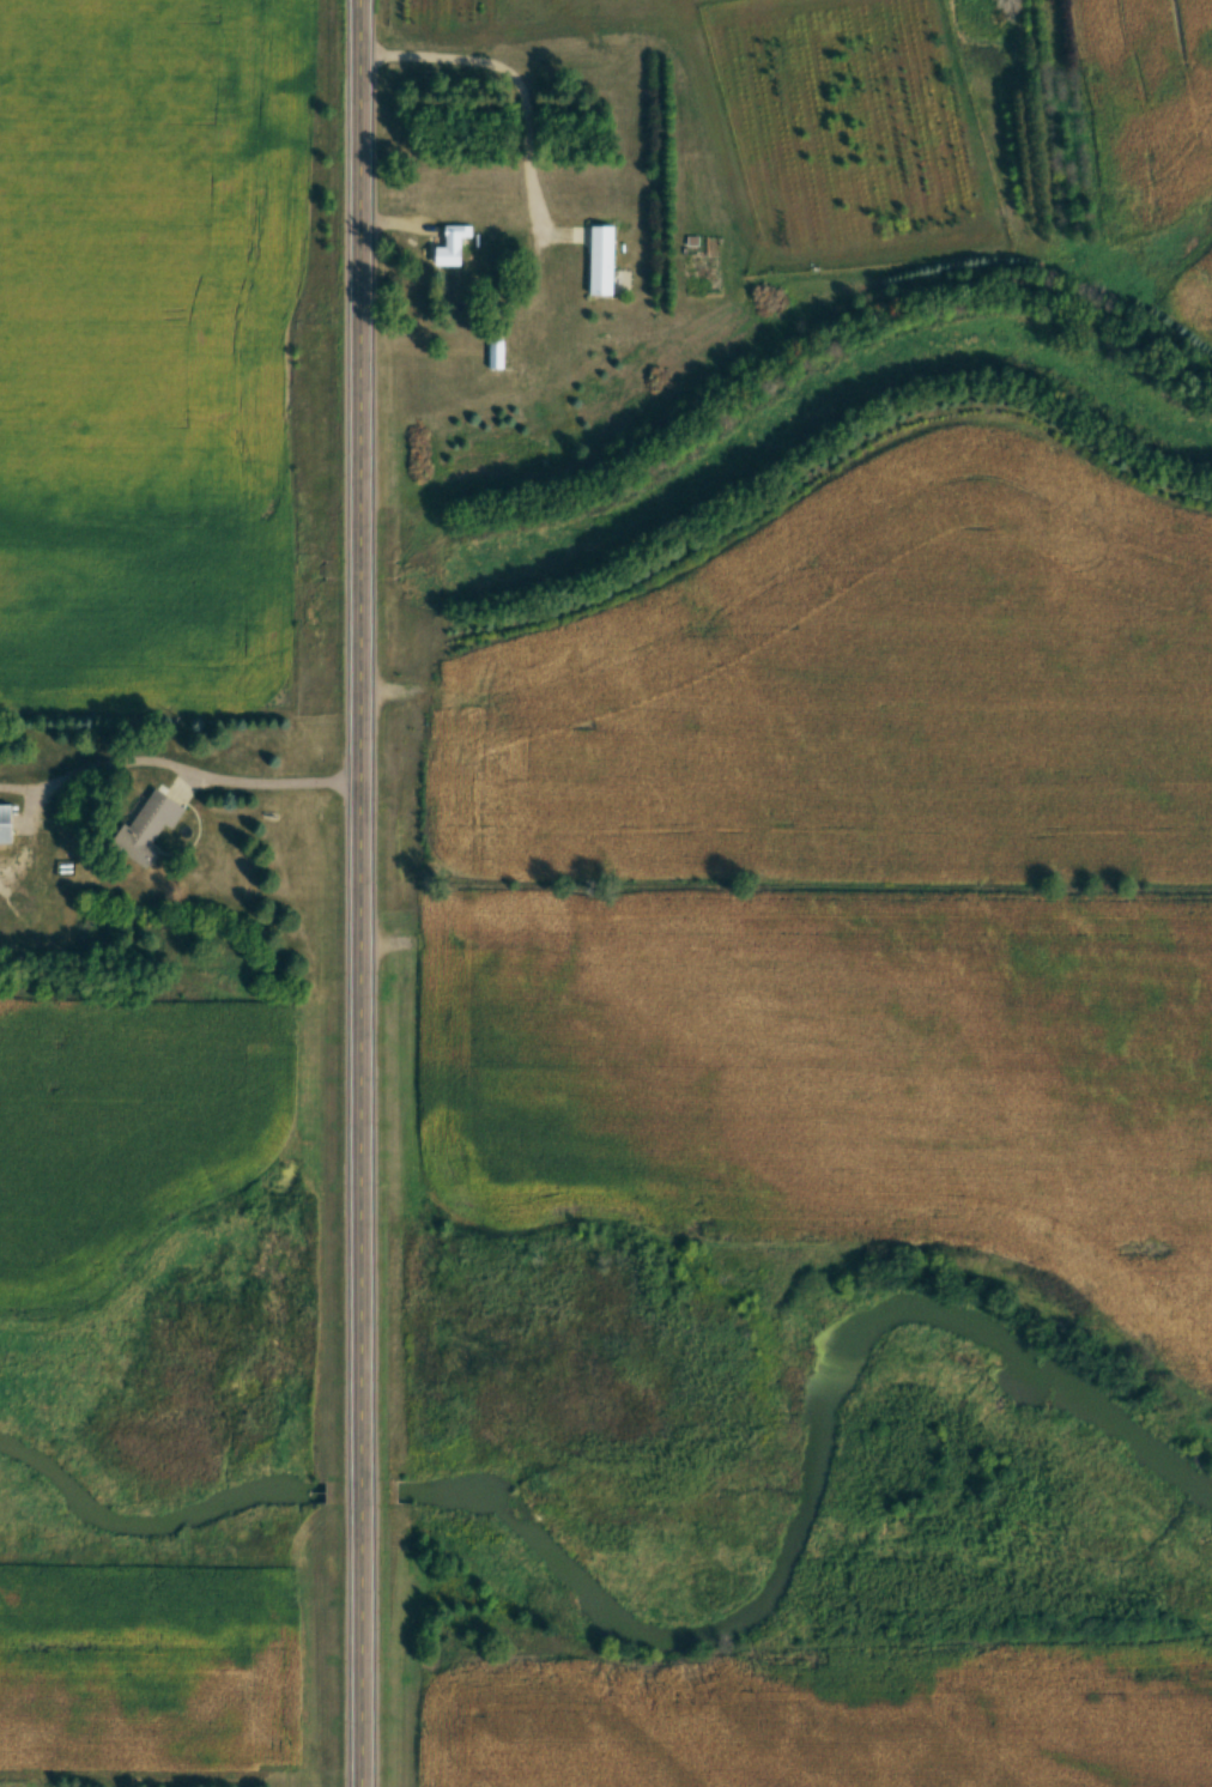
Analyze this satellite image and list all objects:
road: (520, 75)
building: (452, 248)
building: (602, 261)
building: (496, 356)
road: (273, 779)
building: (6, 825)
building: (149, 829)
road: (372, 893)

